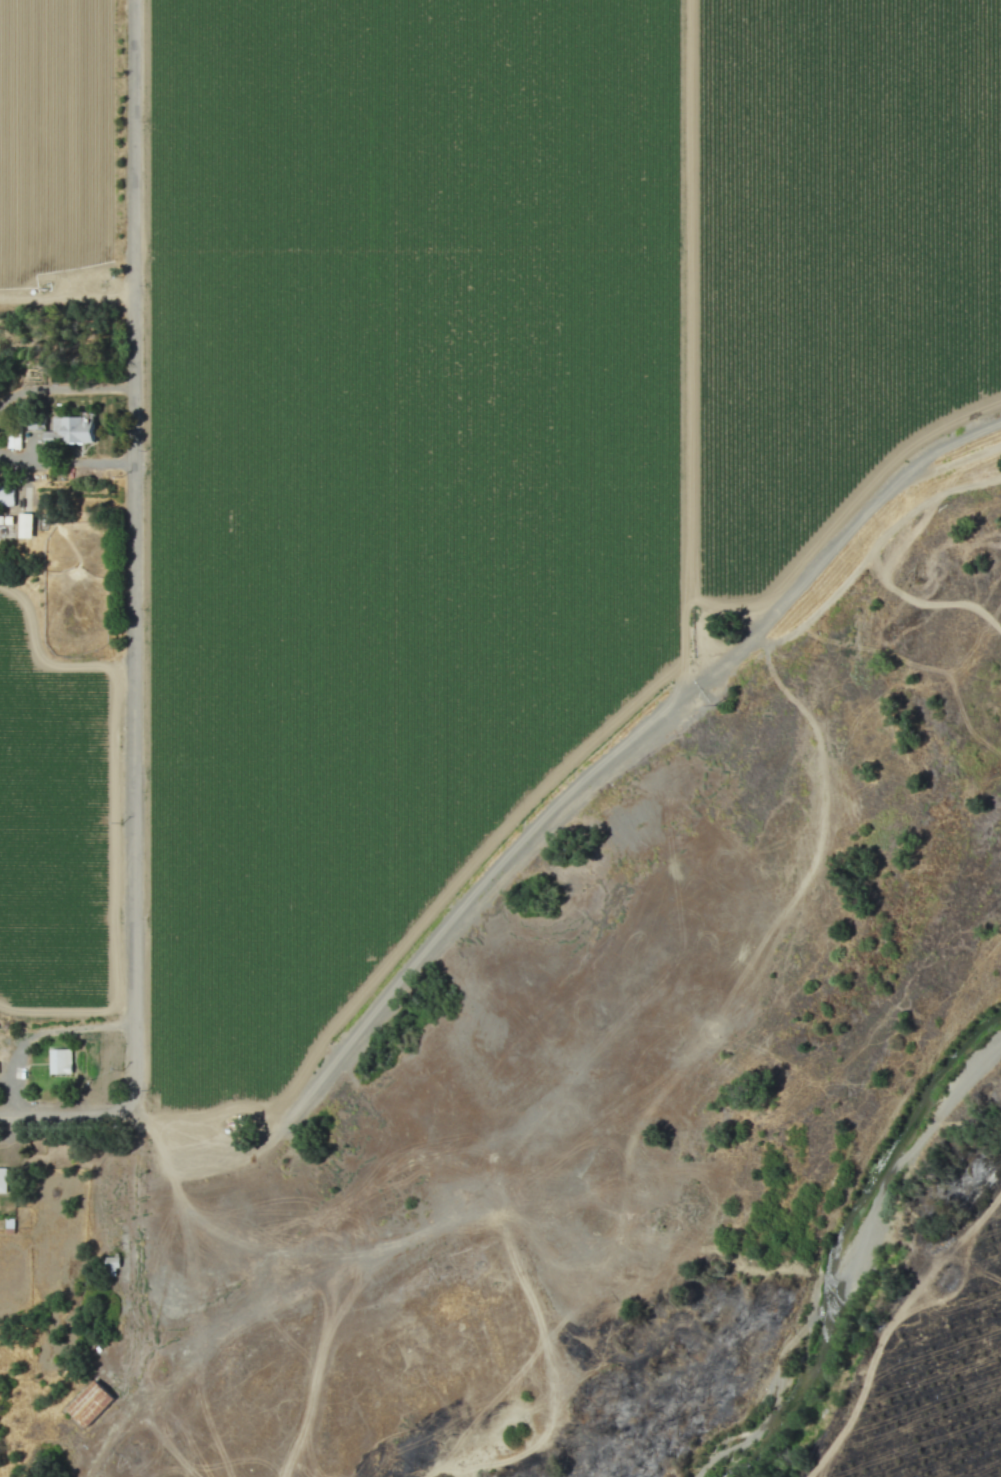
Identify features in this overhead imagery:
road: (68, 291)
road: (67, 388)
building: (70, 430)
road: (68, 461)
building: (6, 496)
building: (25, 526)
road: (137, 657)
road: (46, 660)
road: (570, 795)
road: (39, 1033)
building: (60, 1062)
road: (69, 1120)
building: (3, 1180)
river: (847, 1255)
building: (111, 1266)
building: (90, 1404)

